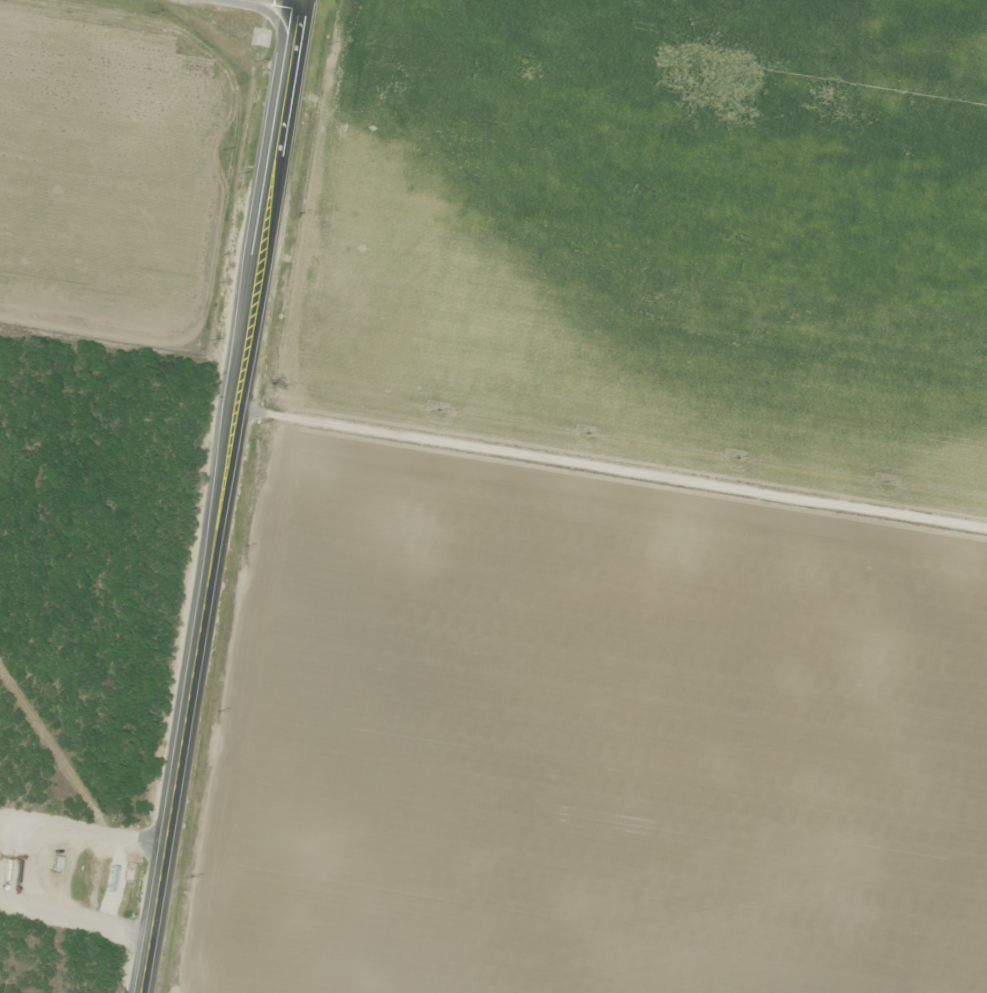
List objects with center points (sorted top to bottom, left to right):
road: (297, 1)
road: (613, 467)
road: (225, 496)
road: (18, 860)

